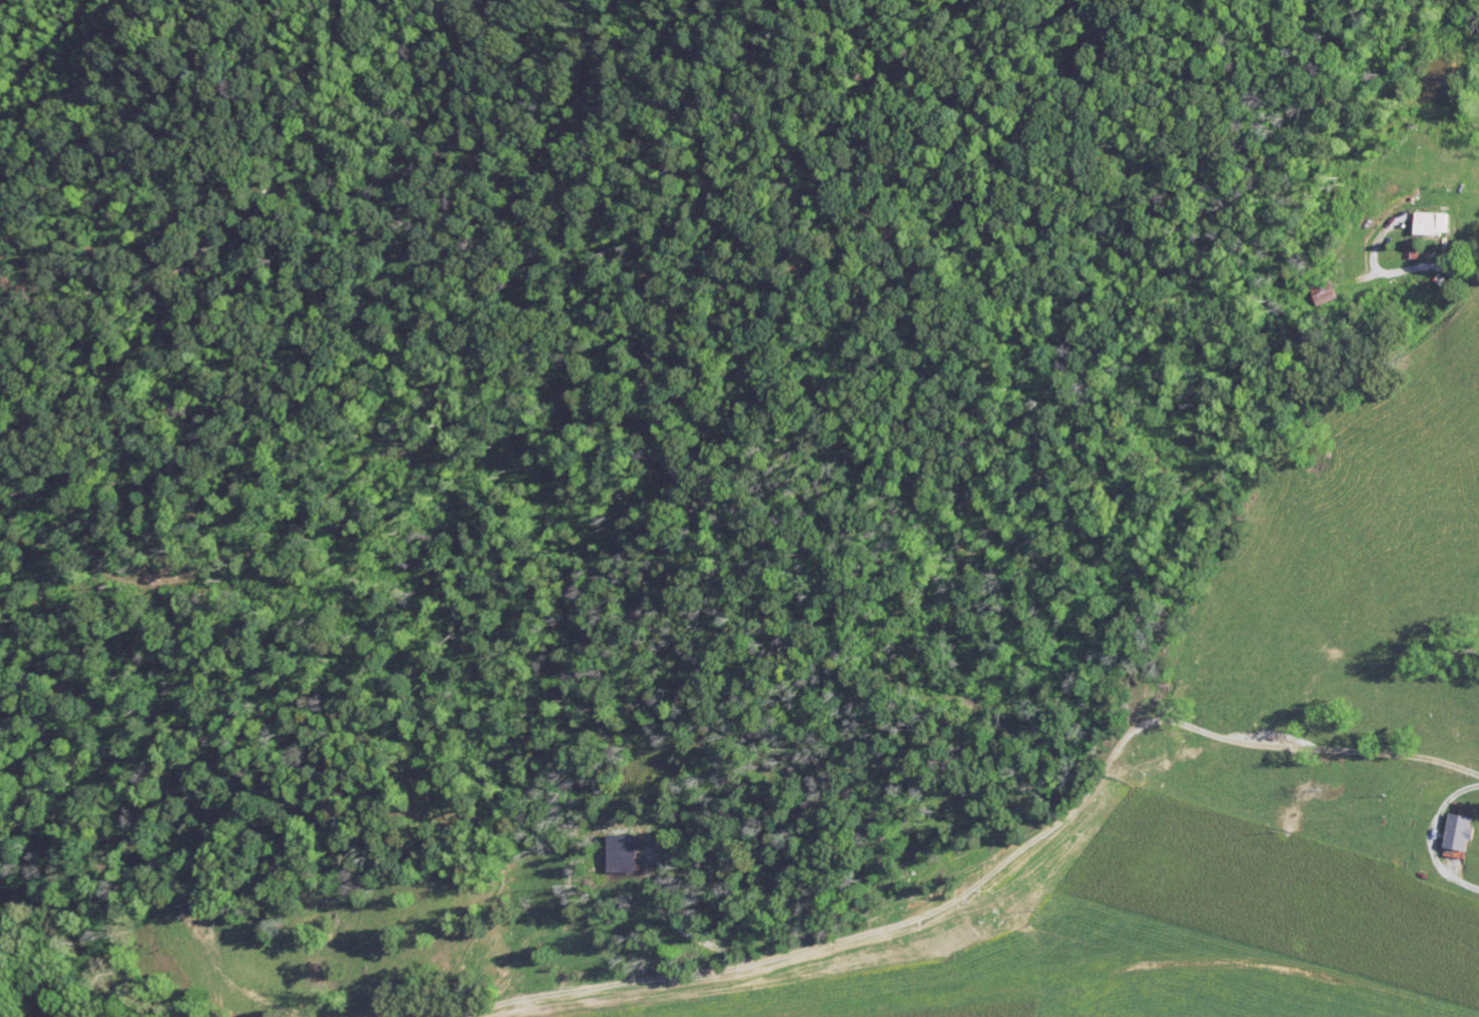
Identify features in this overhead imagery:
building: (1433, 224)
building: (1411, 250)
road: (1426, 268)
building: (1326, 294)
road: (734, 557)
building: (1462, 834)
building: (623, 856)

